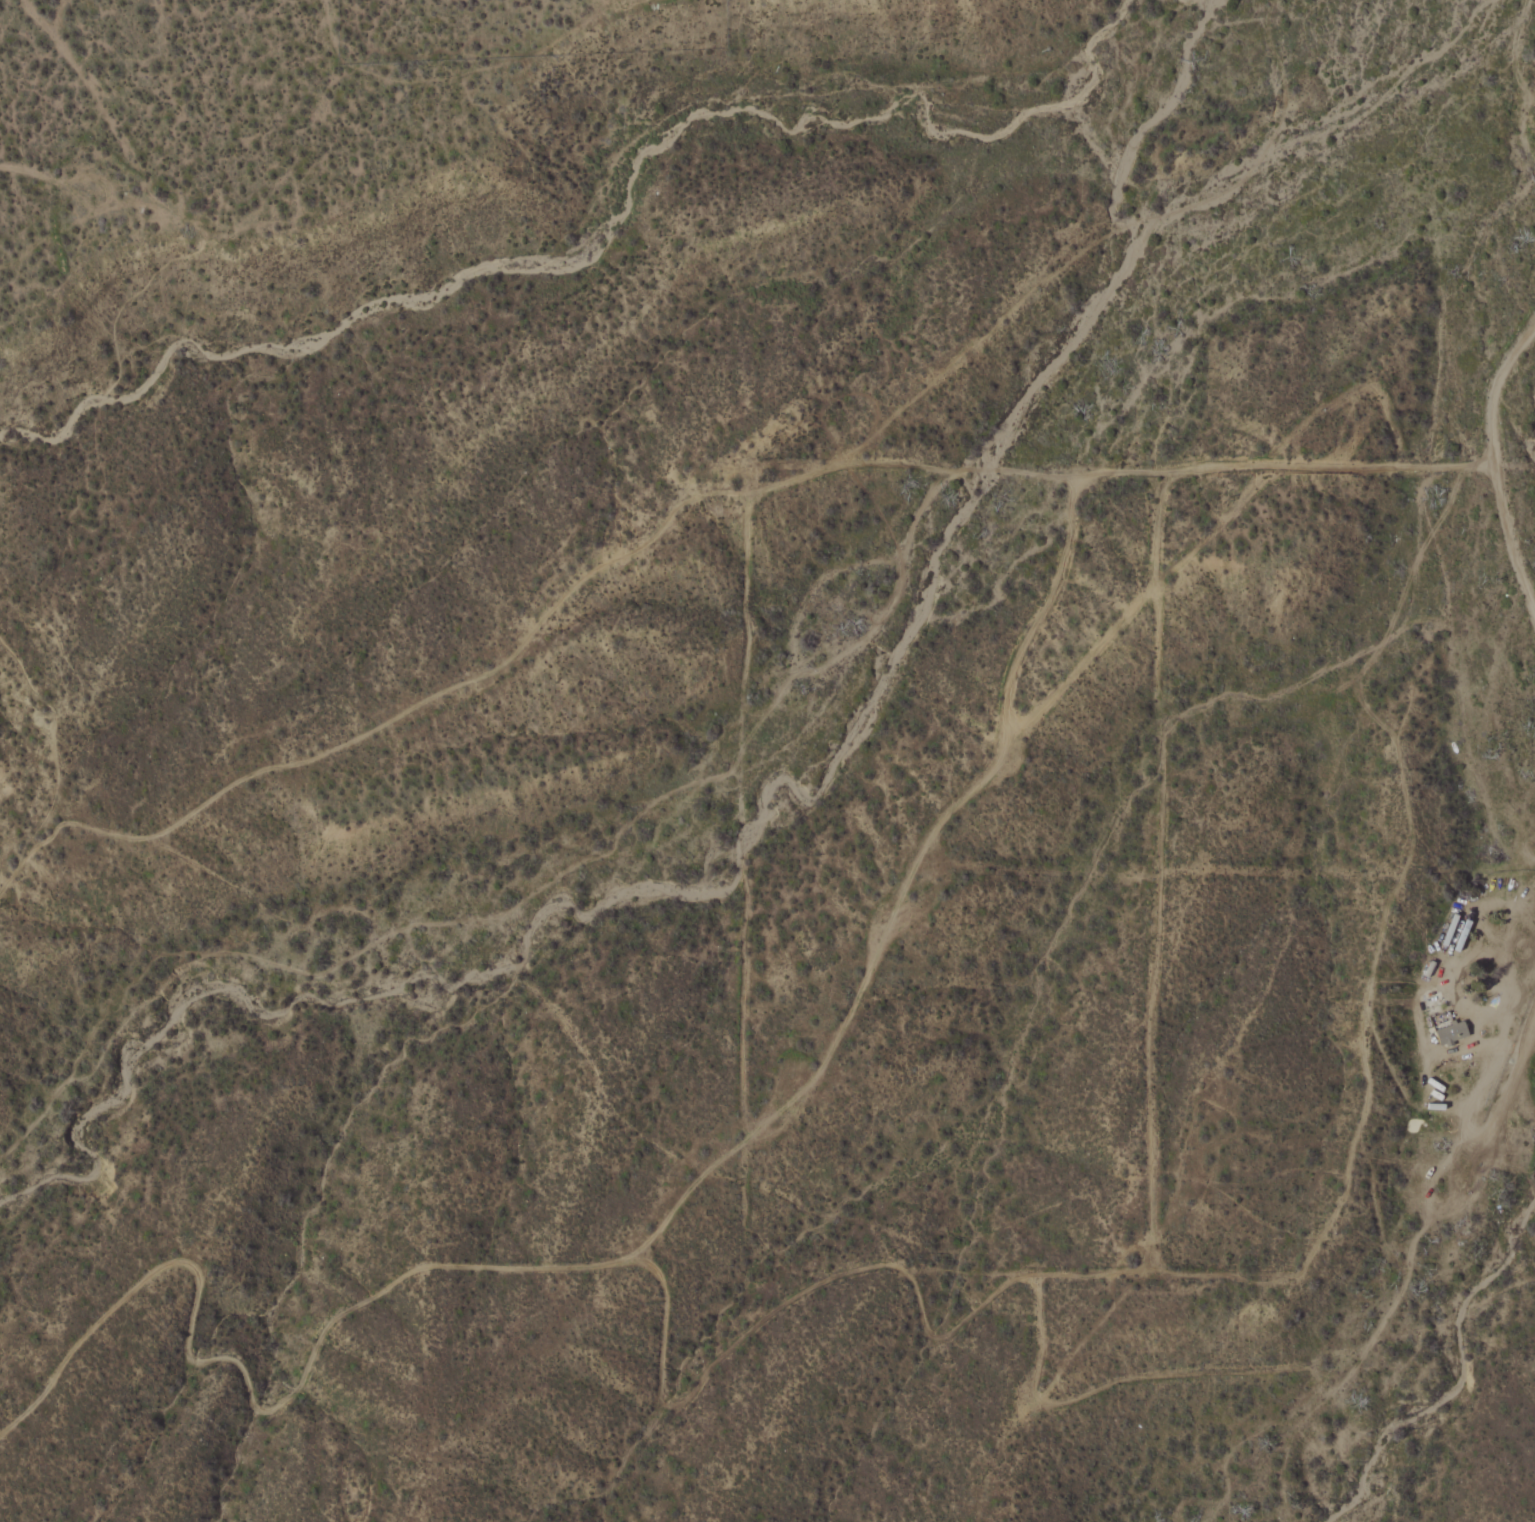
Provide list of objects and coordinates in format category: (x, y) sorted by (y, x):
road: (1491, 472)
road: (953, 807)
road: (1159, 871)
road: (1484, 1097)
road: (828, 1277)
road: (1241, 1371)

